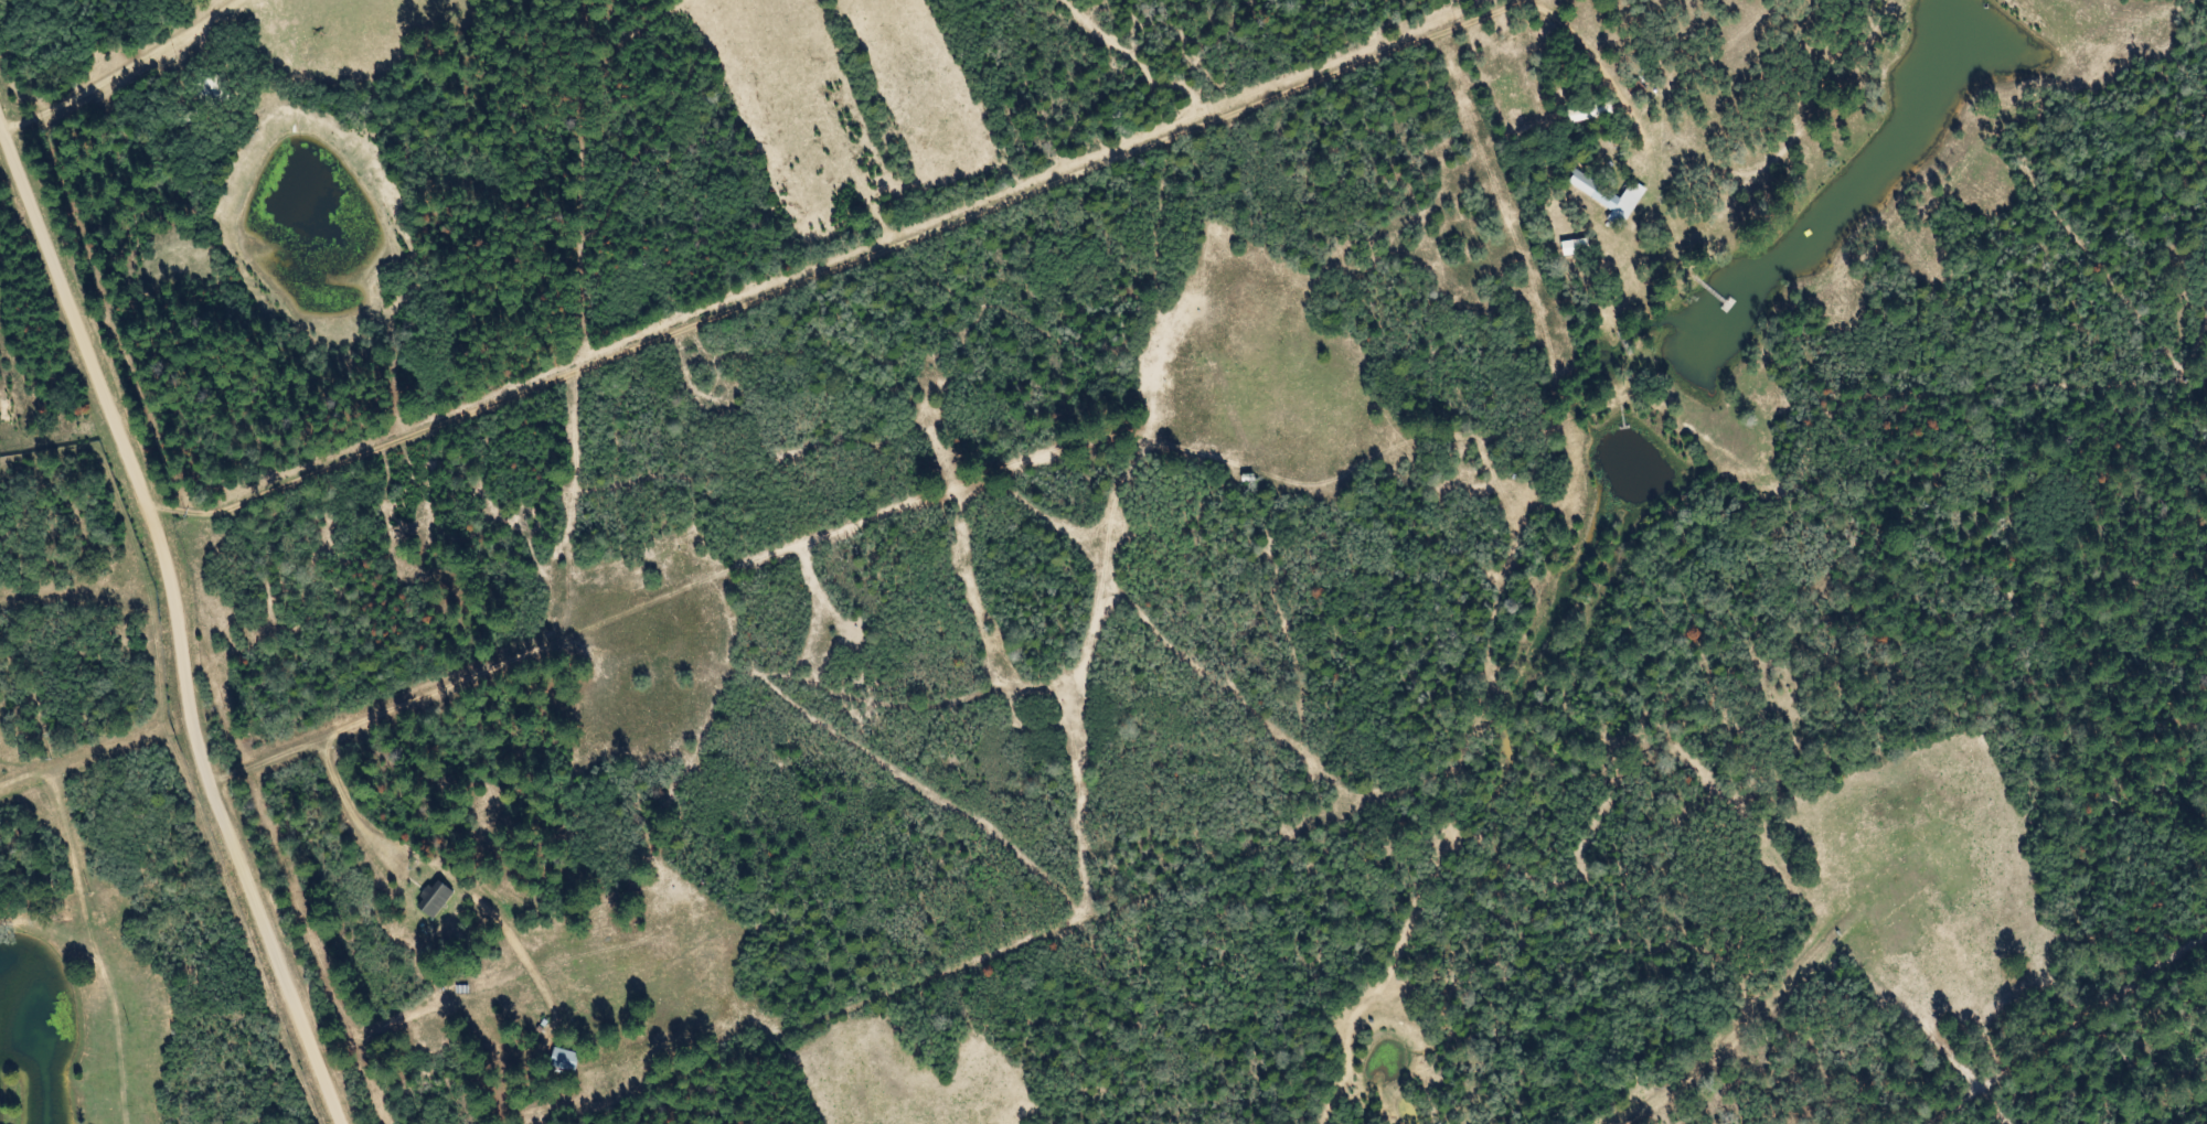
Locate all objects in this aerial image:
road: (130, 81)
building: (218, 92)
building: (1609, 197)
road: (1506, 561)
road: (760, 566)
road: (181, 615)
road: (290, 846)
building: (439, 898)
road: (1712, 1034)
building: (568, 1060)
road: (66, 1073)

